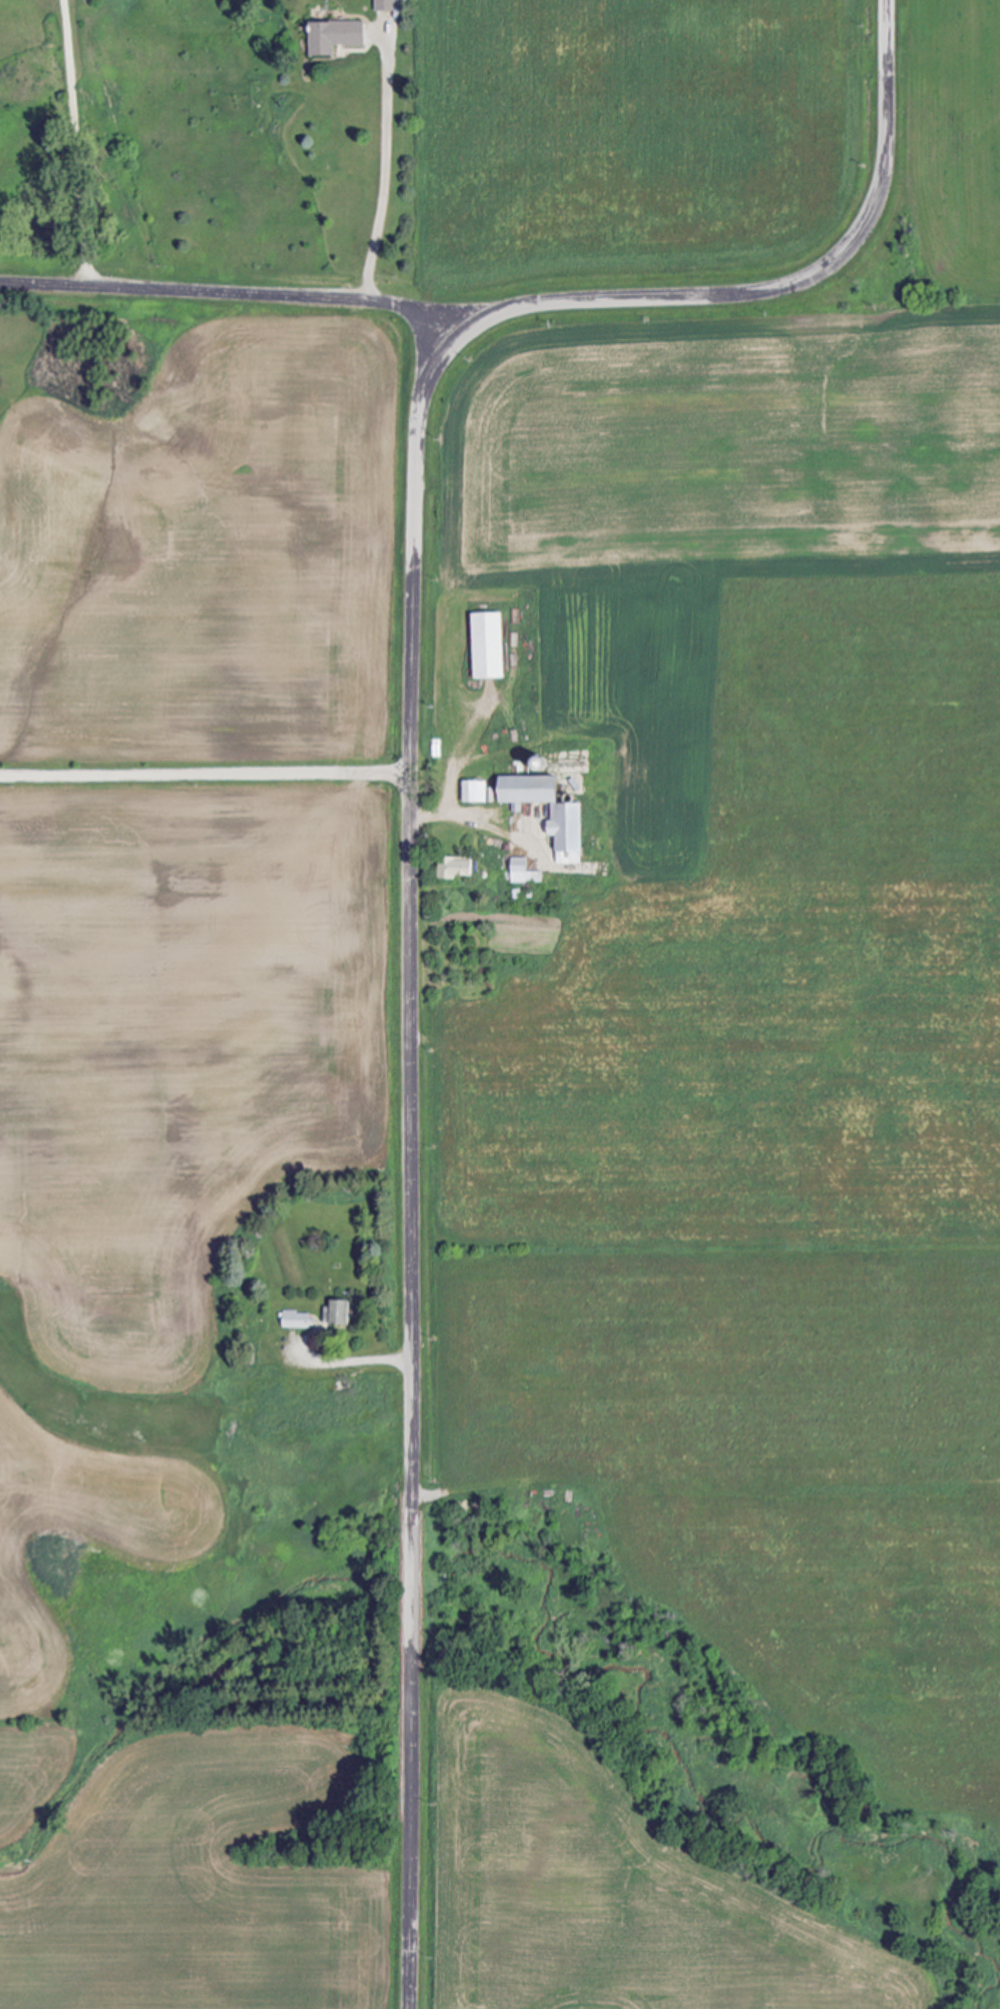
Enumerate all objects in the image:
building: (382, 5)
building: (330, 37)
road: (77, 142)
road: (387, 168)
road: (227, 291)
building: (483, 646)
road: (205, 776)
road: (443, 813)
building: (563, 817)
road: (410, 827)
building: (453, 867)
building: (520, 872)
building: (335, 1311)
building: (295, 1319)
road: (354, 1361)

